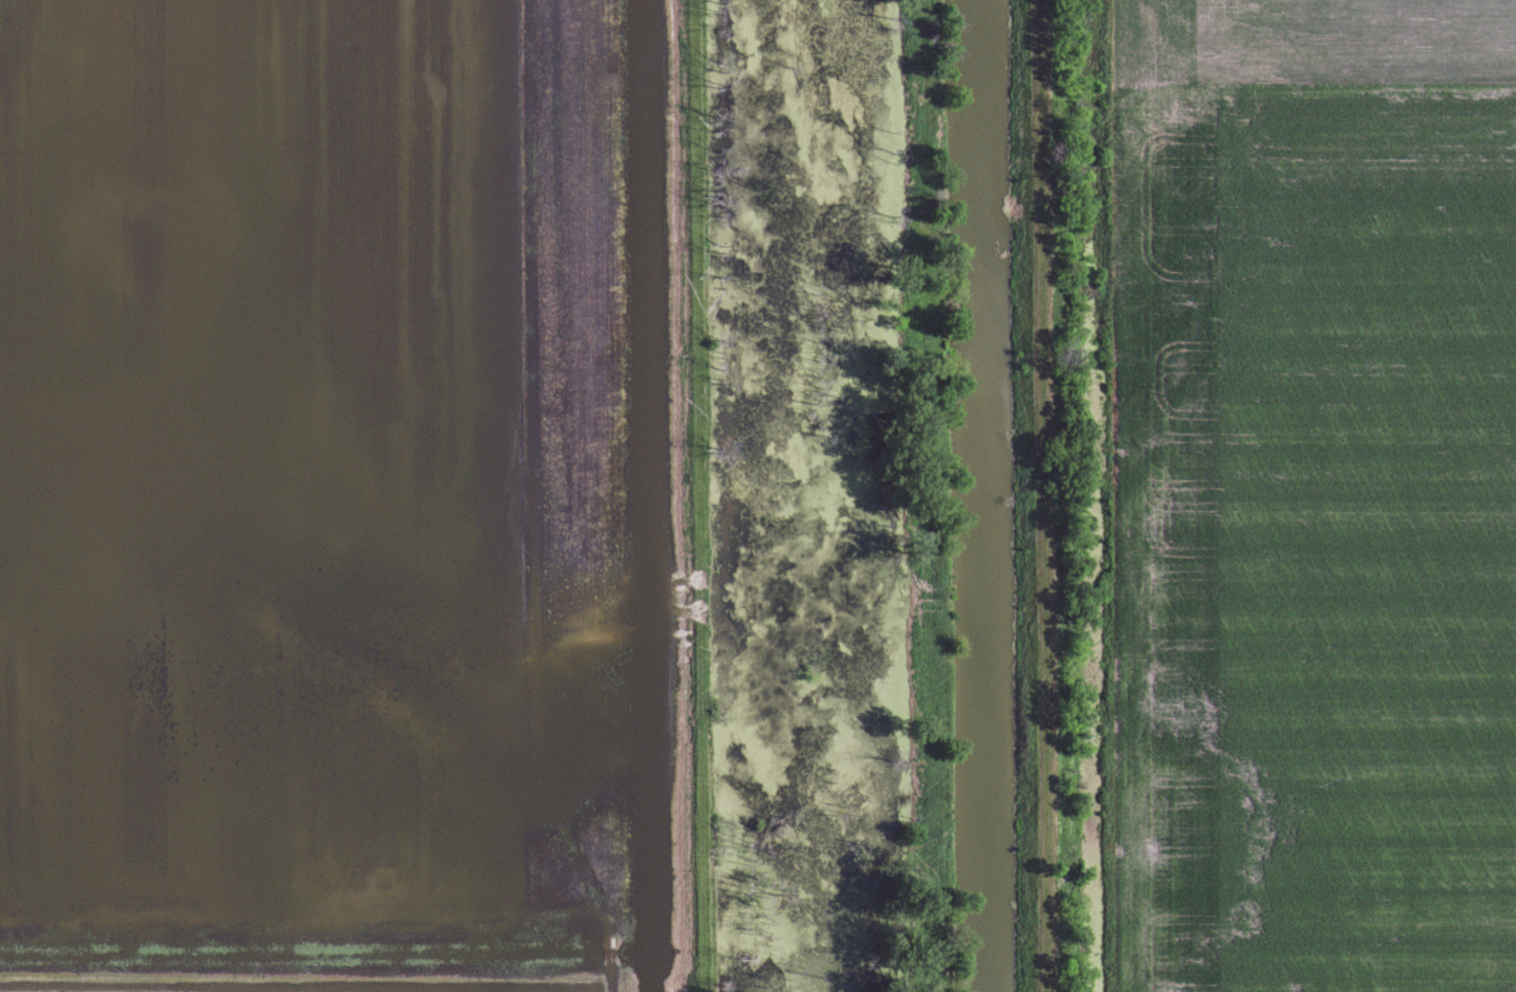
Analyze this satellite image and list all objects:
road: (1043, 495)
crop: (1311, 495)

